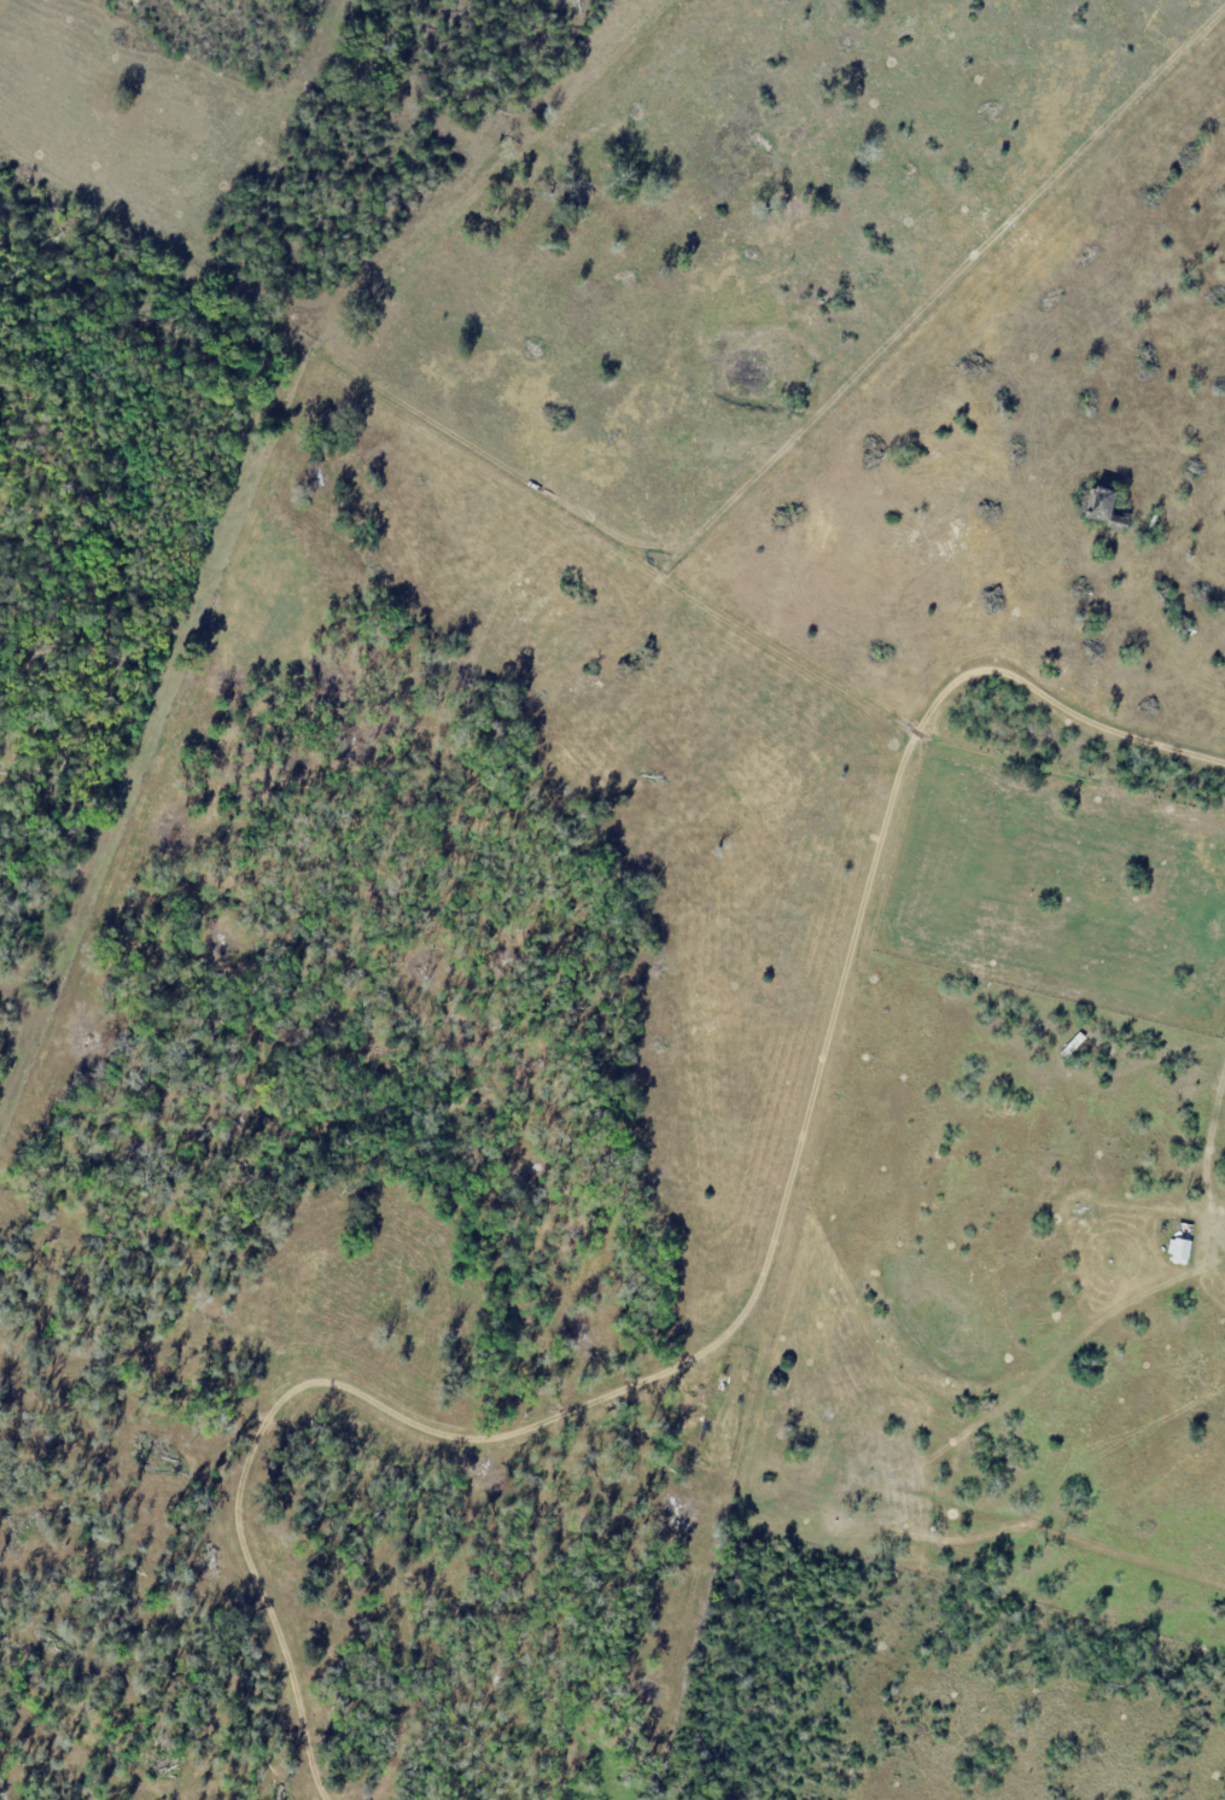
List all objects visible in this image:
building: (1103, 503)
building: (1165, 594)
building: (1185, 622)
building: (1077, 1045)
building: (1184, 1242)
road: (751, 1307)

